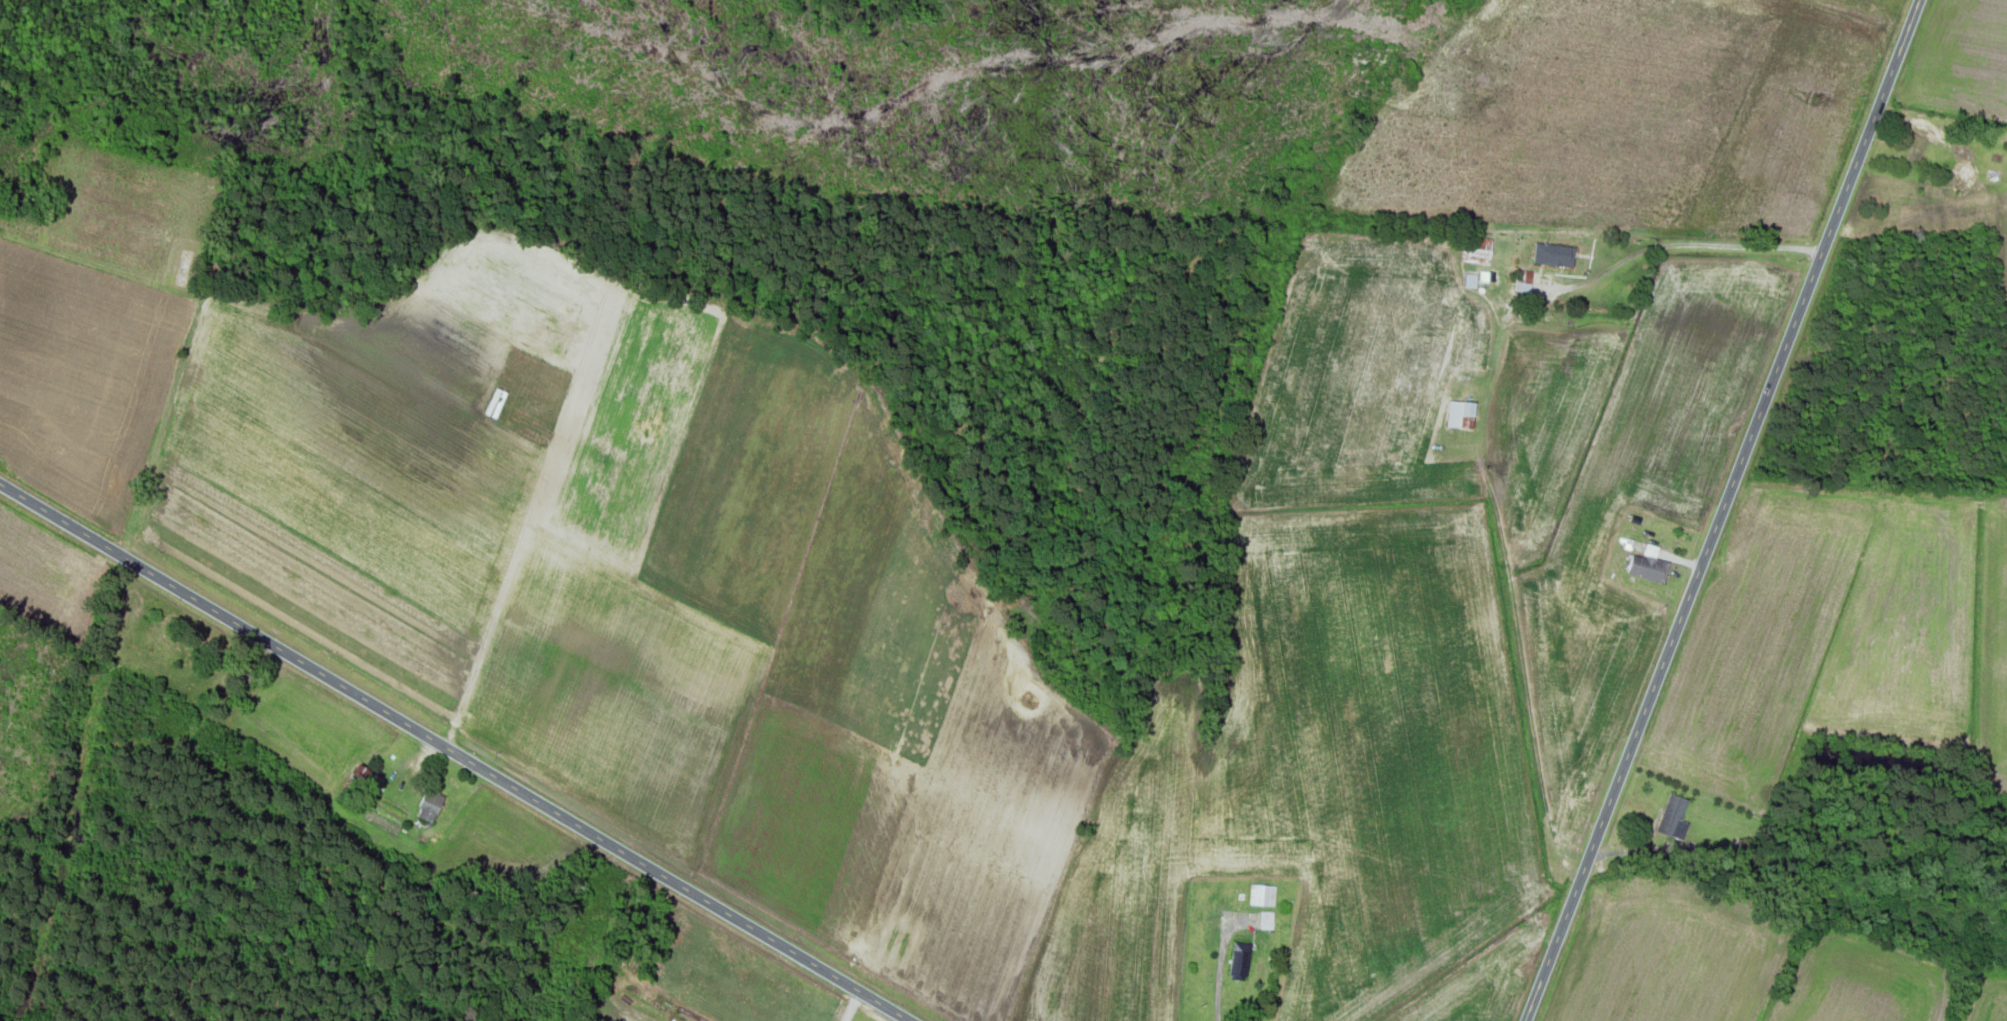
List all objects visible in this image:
building: (1921, 141)
road: (1684, 245)
building: (1479, 250)
building: (1556, 255)
building: (1525, 281)
building: (1468, 416)
road: (1722, 510)
building: (1649, 566)
road: (454, 752)
building: (430, 807)
building: (1674, 818)
building: (1262, 896)
building: (1267, 922)
building: (1241, 960)

